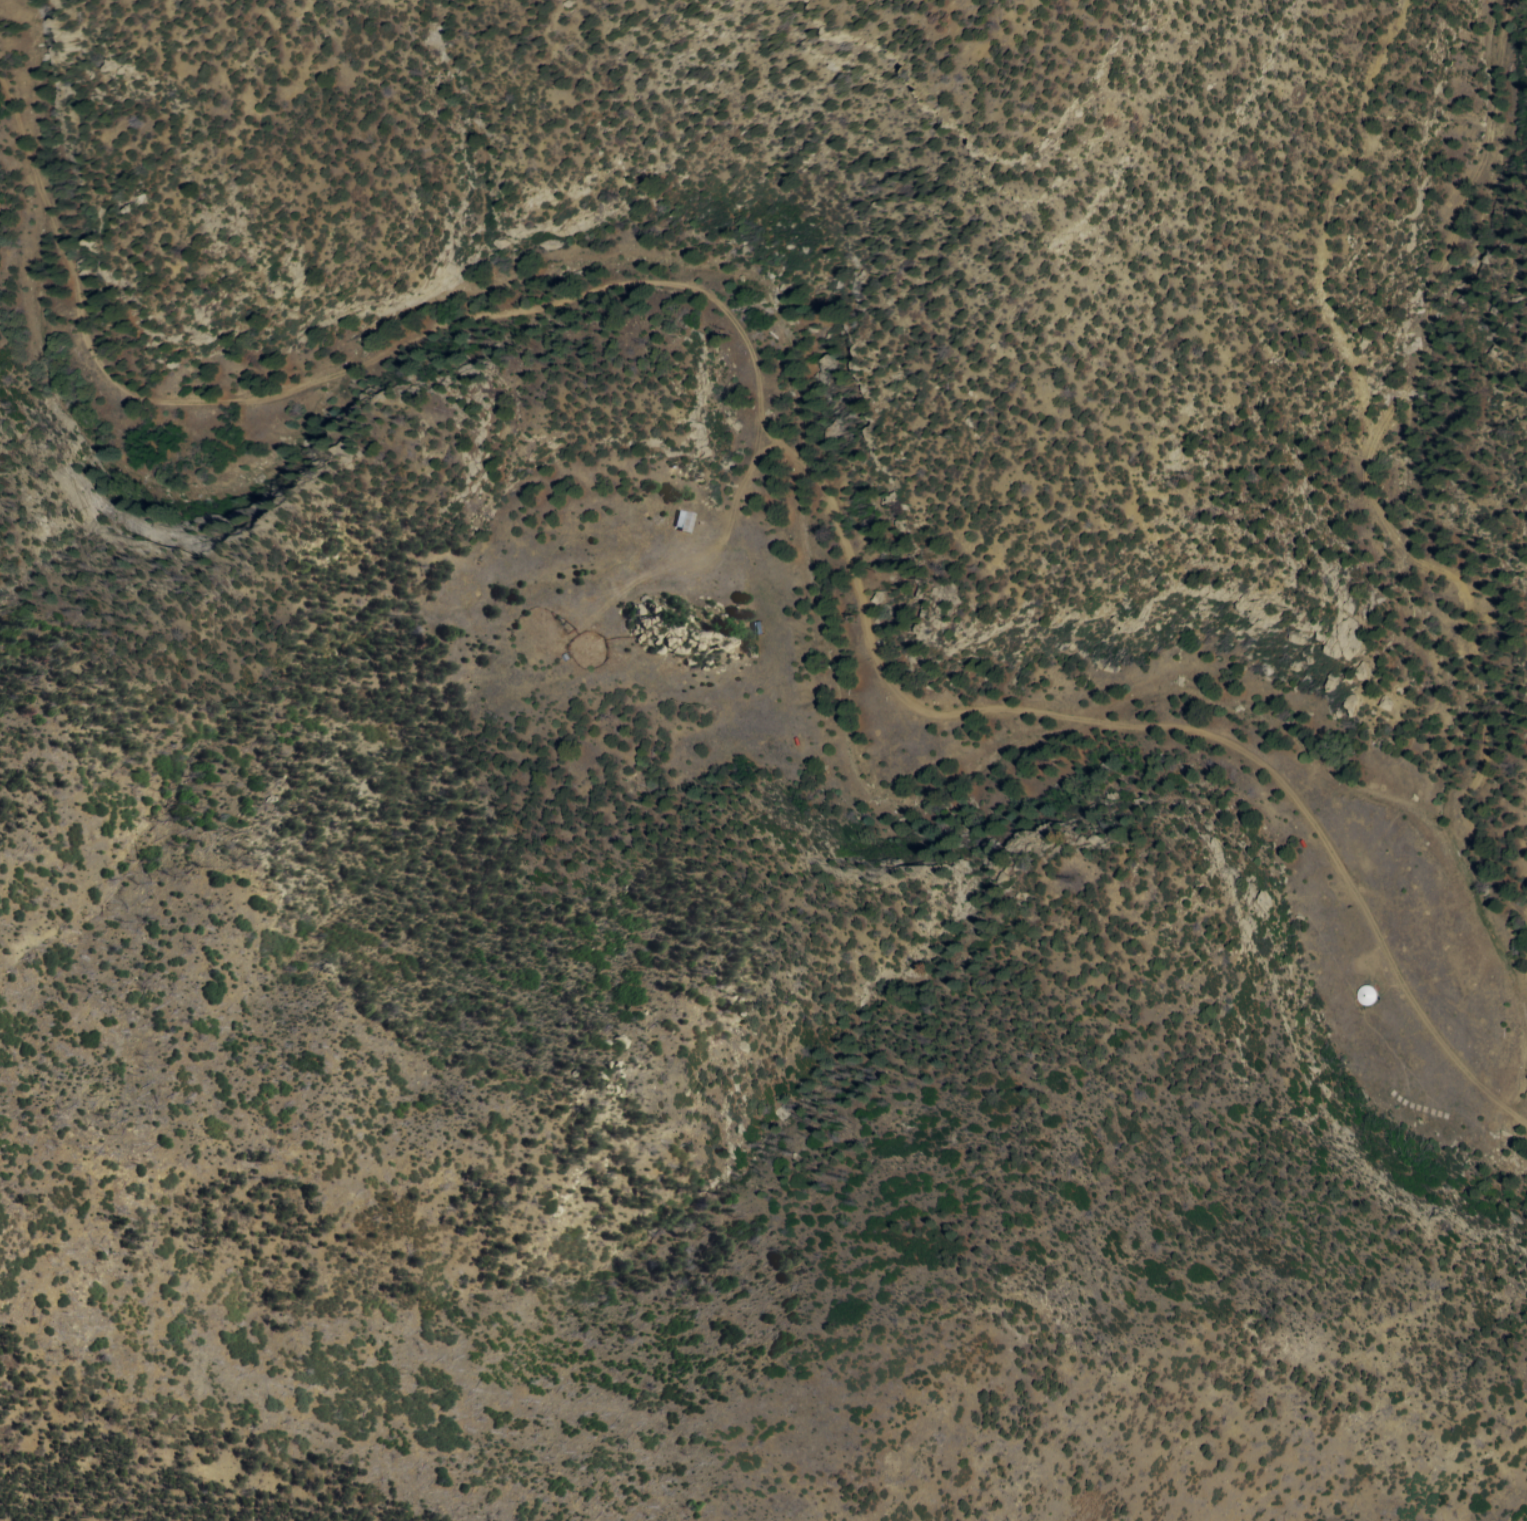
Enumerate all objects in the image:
road: (388, 350)
road: (1358, 477)
building: (684, 521)
building: (759, 628)
road: (1219, 737)
building: (797, 741)
building: (1304, 843)

